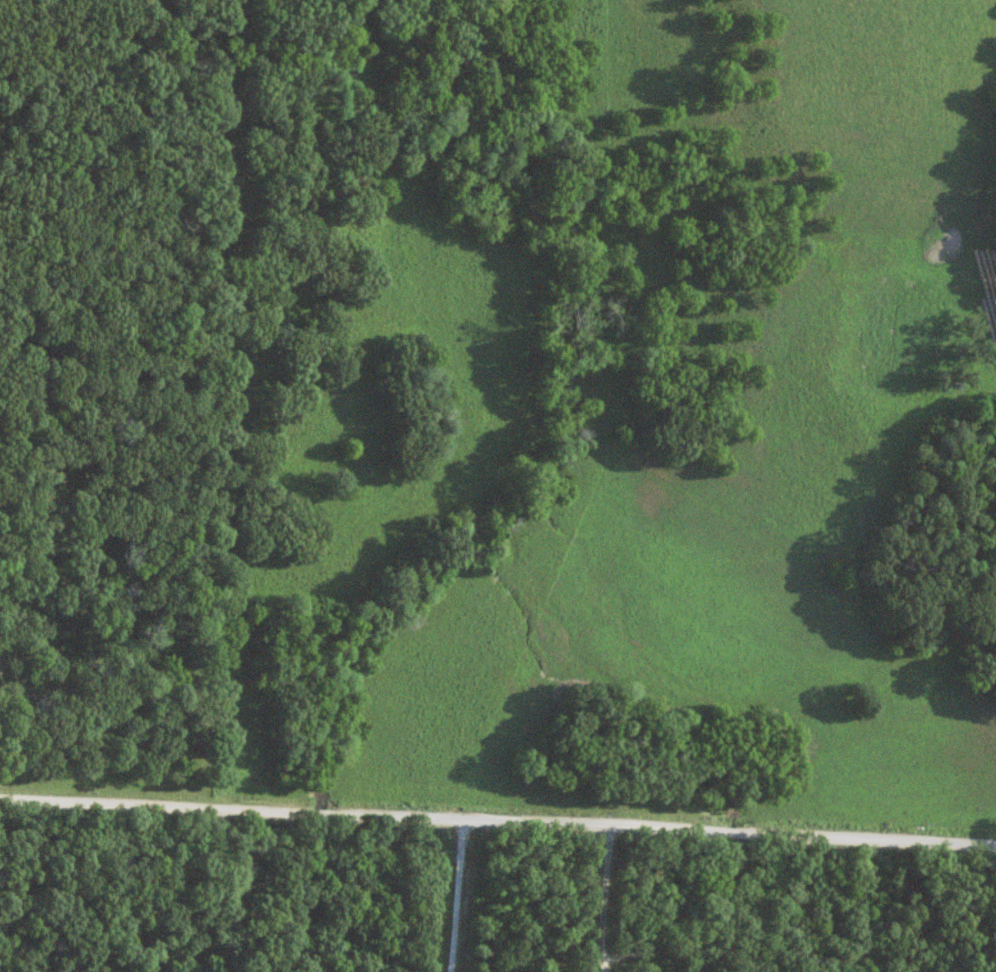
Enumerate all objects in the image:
road: (498, 818)
road: (455, 894)
road: (601, 898)

